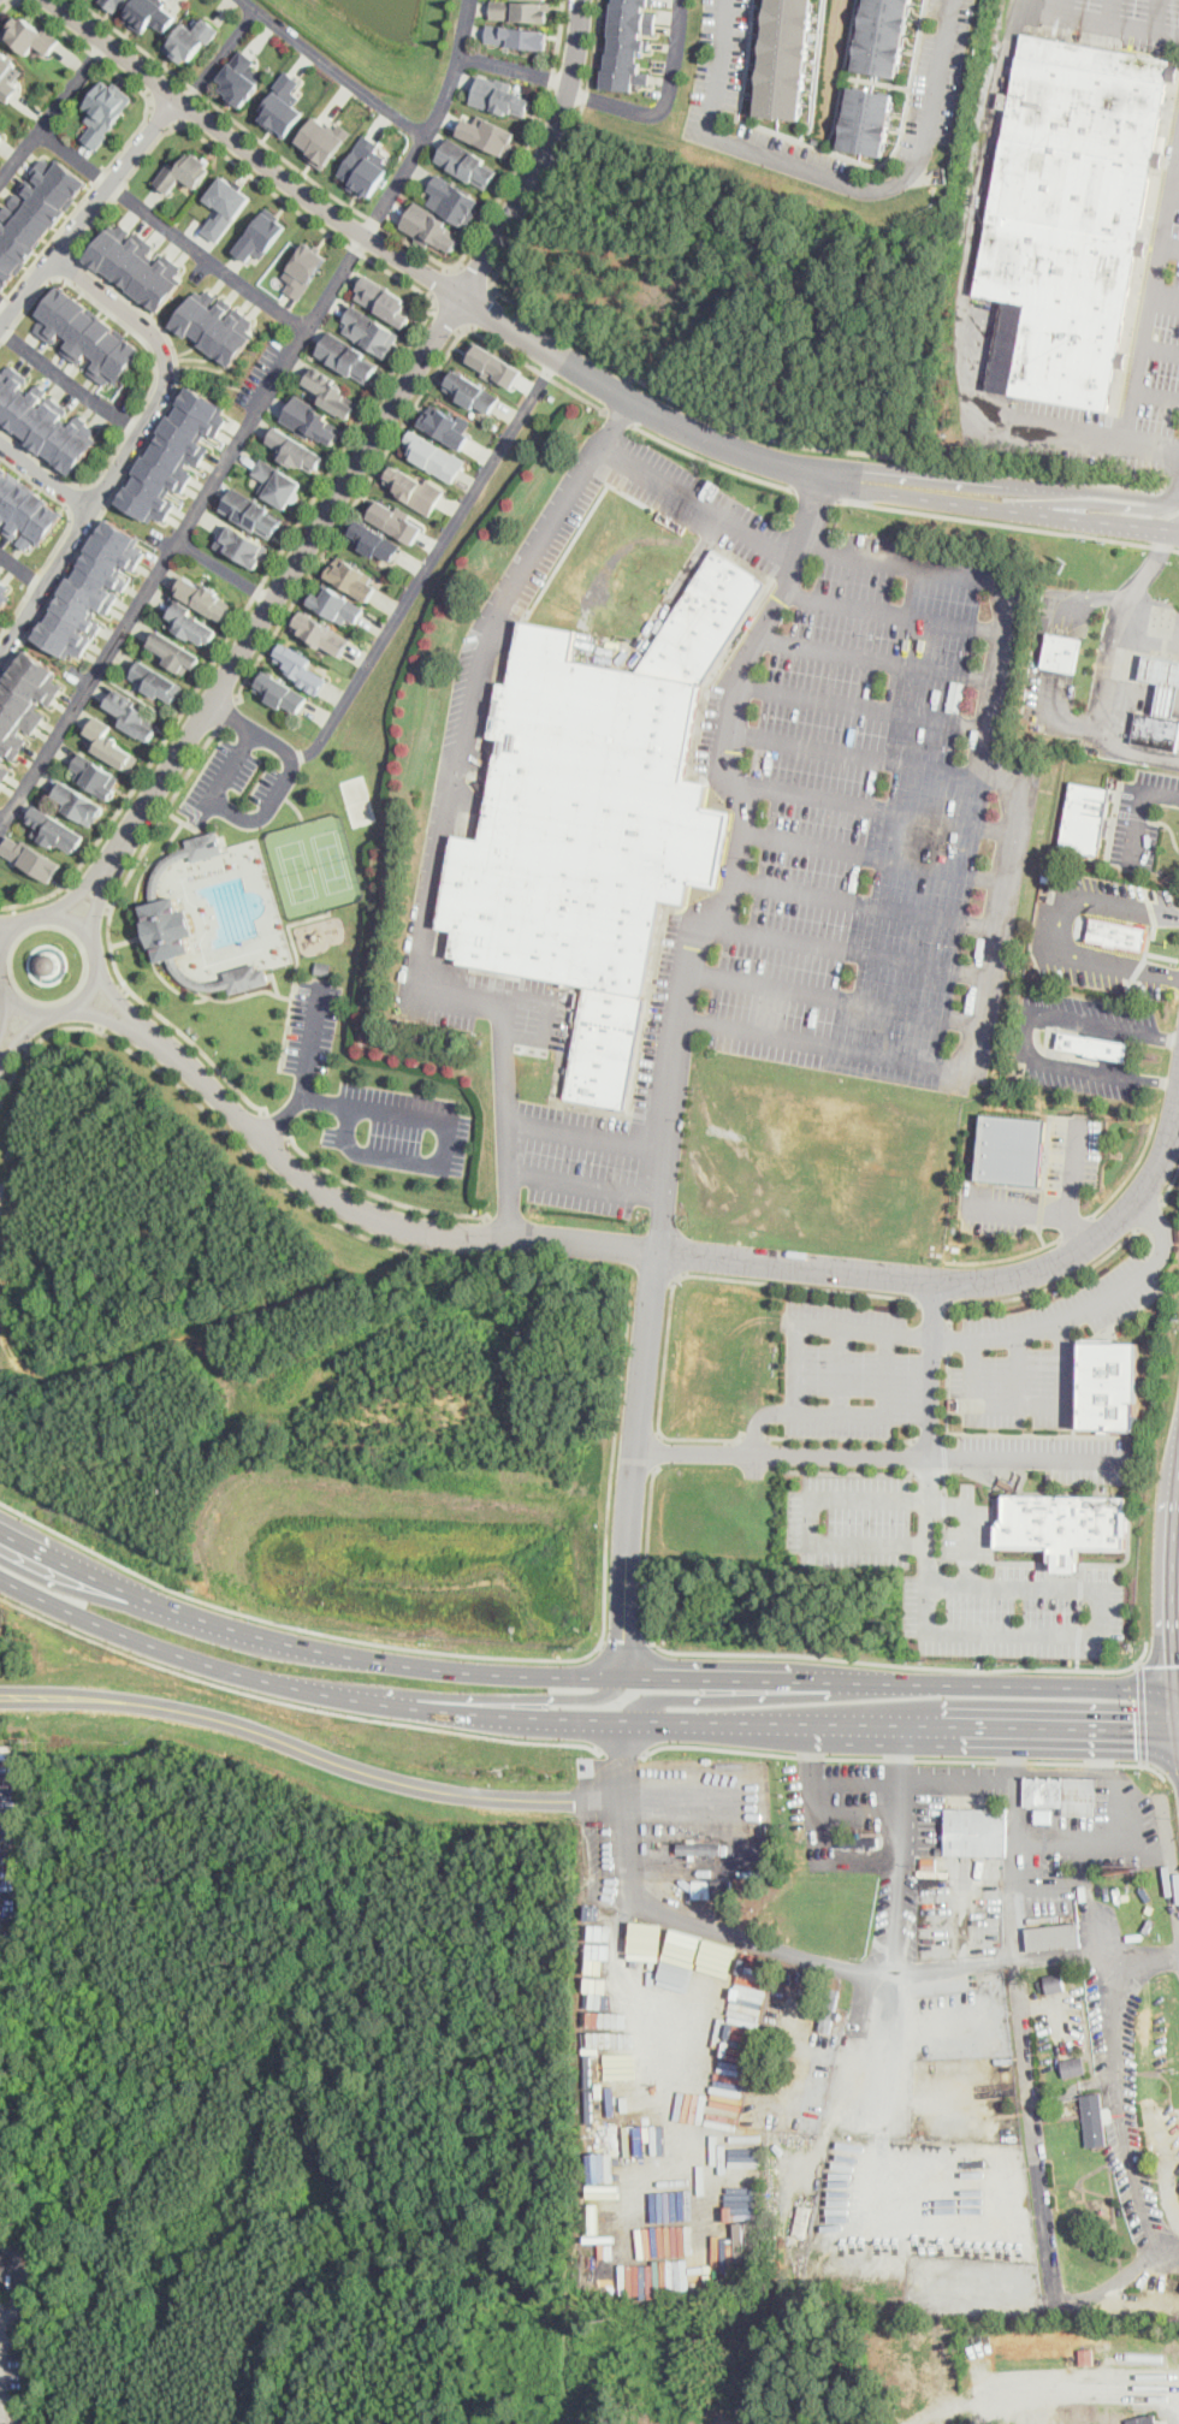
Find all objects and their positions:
road: (22, 0)
road: (11, 1)
building: (115, 2)
building: (521, 10)
road: (1110, 11)
building: (148, 14)
road: (1160, 16)
parking lot: (1118, 22)
road: (1109, 23)
building: (878, 35)
building: (28, 36)
building: (516, 36)
building: (188, 41)
building: (622, 45)
road: (219, 55)
building: (783, 55)
road: (743, 59)
road: (106, 65)
road: (718, 66)
road: (515, 67)
building: (8, 76)
building: (239, 79)
building: (499, 97)
building: (1005, 100)
road: (664, 101)
building: (283, 103)
road: (52, 109)
building: (103, 112)
road: (391, 112)
road: (162, 113)
building: (867, 122)
building: (2, 129)
building: (490, 134)
building: (321, 140)
road: (250, 153)
road: (888, 156)
building: (467, 162)
building: (363, 167)
building: (180, 174)
road: (99, 176)
road: (893, 183)
road: (395, 185)
road: (1174, 194)
building: (454, 197)
building: (225, 206)
road: (88, 211)
building: (1073, 211)
building: (37, 217)
building: (428, 224)
road: (383, 226)
road: (171, 229)
building: (260, 235)
road: (334, 237)
road: (51, 239)
road: (1169, 243)
building: (303, 268)
building: (138, 269)
road: (474, 278)
road: (442, 284)
road: (1151, 296)
road: (1165, 298)
road: (2, 300)
building: (385, 302)
road: (5, 308)
road: (449, 318)
building: (368, 330)
building: (212, 332)
building: (89, 333)
building: (1007, 346)
parking lot: (1166, 349)
road: (1160, 350)
building: (348, 357)
building: (492, 363)
road: (67, 381)
building: (135, 386)
road: (660, 391)
building: (472, 392)
road: (617, 392)
building: (332, 393)
road: (1156, 396)
building: (310, 419)
road: (620, 420)
building: (443, 423)
building: (47, 426)
road: (695, 433)
parking lot: (1050, 437)
road: (1079, 437)
road: (393, 440)
road: (130, 443)
road: (369, 444)
building: (295, 449)
building: (177, 454)
building: (431, 455)
road: (711, 463)
road: (45, 475)
building: (277, 481)
road: (1070, 488)
building: (416, 490)
road: (1169, 490)
road: (1169, 491)
road: (817, 497)
road: (697, 503)
road: (1101, 503)
building: (24, 512)
building: (253, 512)
road: (1068, 516)
building: (395, 518)
road: (1009, 526)
road: (182, 528)
building: (374, 539)
building: (245, 545)
road: (431, 563)
road: (22, 569)
road: (225, 569)
building: (0, 577)
building: (354, 577)
parking lot: (515, 585)
building: (93, 589)
building: (5, 598)
building: (203, 598)
building: (336, 603)
road: (893, 612)
building: (705, 620)
building: (191, 622)
road: (1150, 627)
building: (321, 633)
road: (1042, 647)
building: (176, 651)
building: (1061, 652)
road: (877, 659)
building: (298, 666)
road: (1114, 666)
building: (156, 680)
building: (1162, 680)
building: (280, 688)
building: (25, 700)
road: (860, 706)
road: (227, 712)
building: (132, 715)
road: (256, 730)
building: (1156, 731)
building: (109, 743)
road: (854, 753)
building: (2, 771)
building: (96, 776)
parking lot: (243, 777)
park: (357, 799)
building: (79, 804)
road: (1137, 806)
road: (225, 808)
road: (873, 810)
parking lot: (877, 813)
parking lot: (1141, 814)
building: (1085, 816)
building: (582, 820)
road: (1168, 826)
building: (54, 828)
road: (445, 835)
building: (206, 844)
road: (1013, 848)
road: (877, 855)
building: (31, 857)
road: (742, 857)
park: (332, 859)
park: (295, 869)
building: (1047, 875)
road: (79, 891)
park: (328, 893)
road: (88, 895)
road: (100, 900)
road: (870, 903)
road: (8, 921)
road: (1051, 926)
building: (170, 929)
building: (1118, 932)
parking lot: (1053, 936)
road: (108, 938)
road: (847, 952)
building: (48, 962)
road: (100, 964)
building: (322, 966)
building: (247, 977)
road: (836, 996)
road: (115, 997)
parking lot: (485, 1002)
road: (112, 1006)
road: (4, 1013)
road: (103, 1015)
road: (549, 1018)
road: (23, 1035)
road: (14, 1036)
road: (1027, 1036)
parking lot: (1029, 1044)
building: (1092, 1044)
building: (605, 1045)
parking lot: (369, 1098)
road: (417, 1115)
road: (280, 1118)
road: (276, 1125)
road: (220, 1127)
road: (587, 1133)
building: (1012, 1145)
parking lot: (1076, 1150)
parking lot: (579, 1155)
road: (1132, 1172)
road: (1171, 1184)
road: (585, 1187)
road: (380, 1196)
road: (1066, 1213)
road: (1151, 1214)
road: (1161, 1226)
road: (1074, 1227)
road: (1079, 1228)
road: (1041, 1234)
road: (663, 1256)
road: (1003, 1257)
road: (716, 1275)
road: (1053, 1284)
road: (934, 1299)
road: (1055, 1324)
road: (884, 1332)
road: (911, 1335)
parking lot: (1041, 1351)
road: (1020, 1370)
road: (841, 1371)
parking lot: (852, 1373)
building: (1108, 1383)
road: (1030, 1407)
road: (759, 1417)
road: (754, 1435)
road: (704, 1438)
road: (841, 1438)
road: (657, 1451)
road: (882, 1454)
parking lot: (1055, 1457)
road: (634, 1464)
road: (849, 1471)
building: (1049, 1477)
road: (808, 1519)
building: (1064, 1523)
road: (968, 1527)
parking lot: (955, 1569)
road: (73, 1572)
road: (976, 1586)
road: (930, 1608)
road: (624, 1642)
road: (178, 1655)
road: (817, 1655)
road: (475, 1657)
road: (385, 1661)
road: (1159, 1664)
road: (770, 1679)
road: (1045, 1685)
road: (497, 1697)
road: (722, 1699)
road: (291, 1702)
road: (1143, 1712)
road: (497, 1713)
road: (902, 1729)
traffic signals: (1134, 1733)
road: (621, 1748)
road: (312, 1753)
road: (906, 1759)
road: (1167, 1767)
road: (899, 1770)
road: (976, 1780)
building: (1064, 1794)
road: (685, 1800)
road: (894, 1810)
building: (1045, 1814)
building: (976, 1832)
road: (1090, 1841)
building: (859, 1842)
building: (699, 1849)
building: (929, 1865)
building: (703, 1890)
building: (721, 1893)
road: (1014, 1897)
road: (735, 1937)
building: (1054, 1937)
road: (1073, 1951)
building: (1055, 1983)
building: (830, 2008)
building: (1074, 2067)
road: (849, 2085)
road: (1118, 2088)
building: (1096, 2120)
road: (1035, 2186)
building: (801, 2219)
building: (603, 2221)
building: (2, 2272)
road: (20, 2282)
road: (1077, 2393)
road: (1178, 2404)
road: (0, 2406)
building: (1144, 2420)

